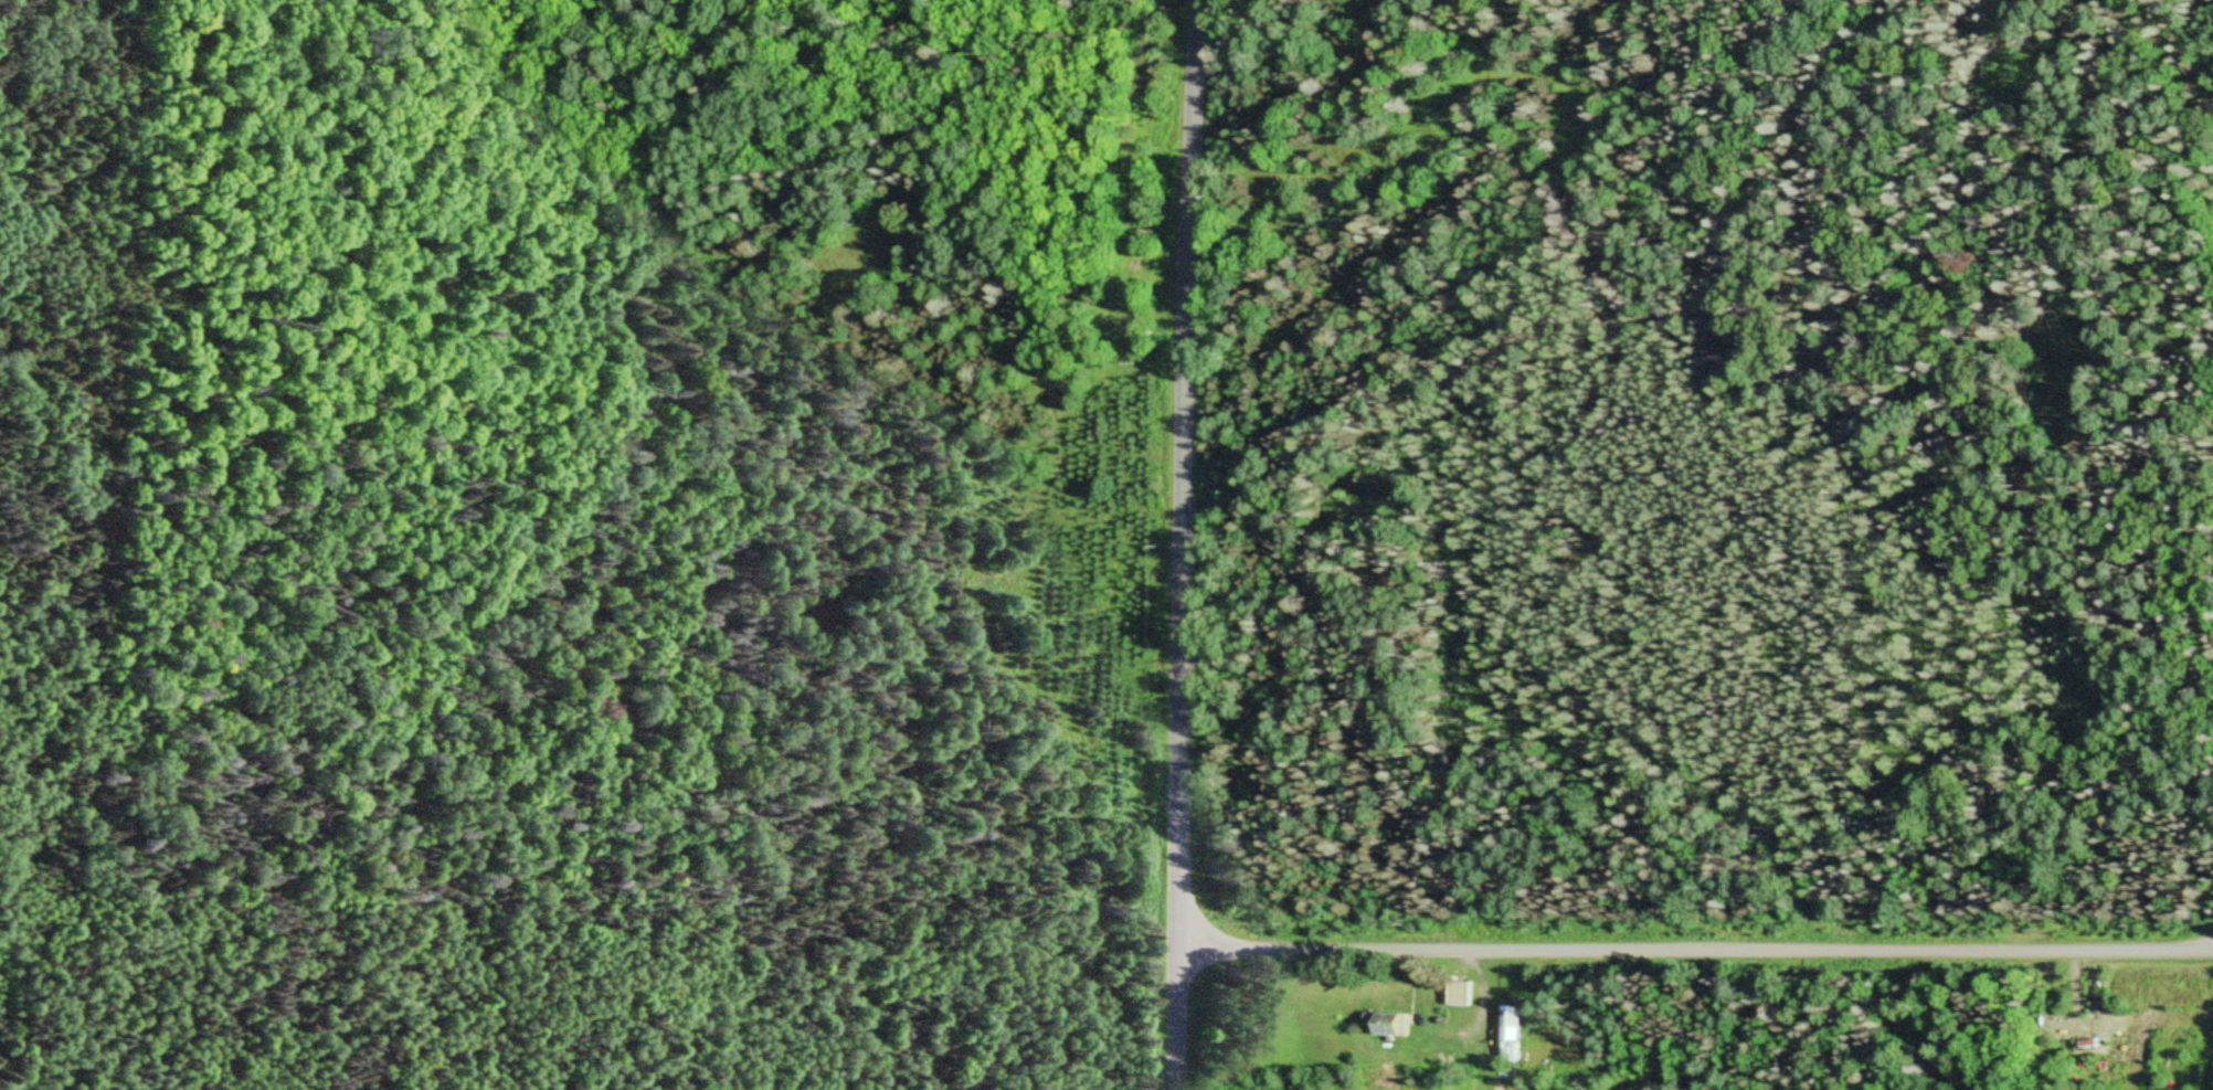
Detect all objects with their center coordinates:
road: (1196, 544)
road: (1698, 951)
building: (1462, 994)

